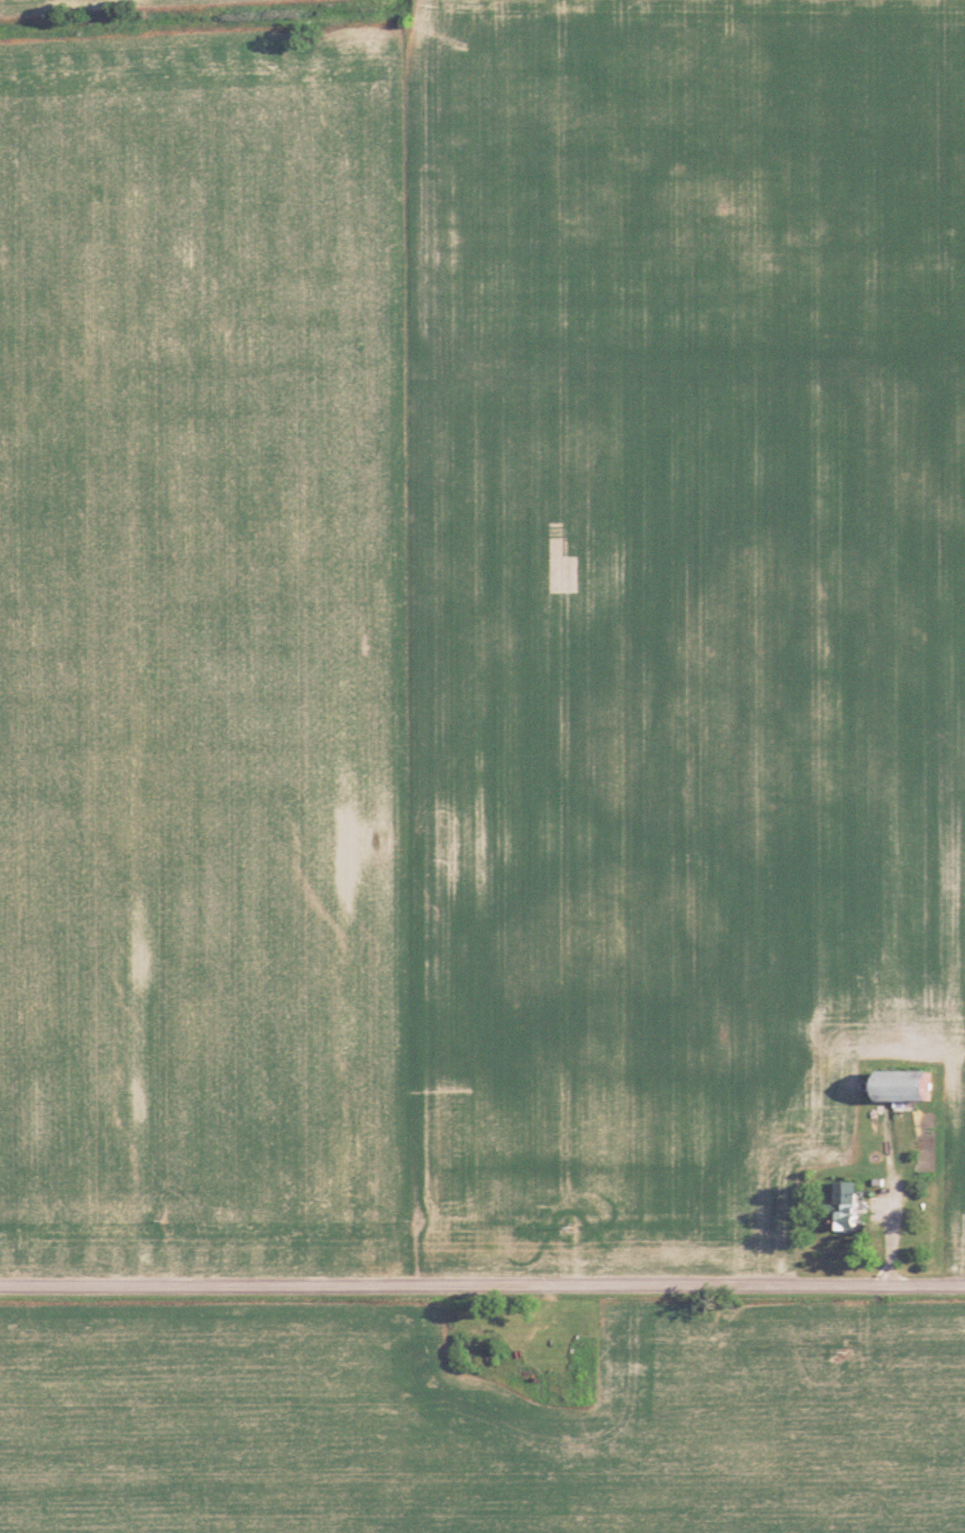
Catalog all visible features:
building: (894, 1086)
building: (839, 1208)
road: (482, 1287)

